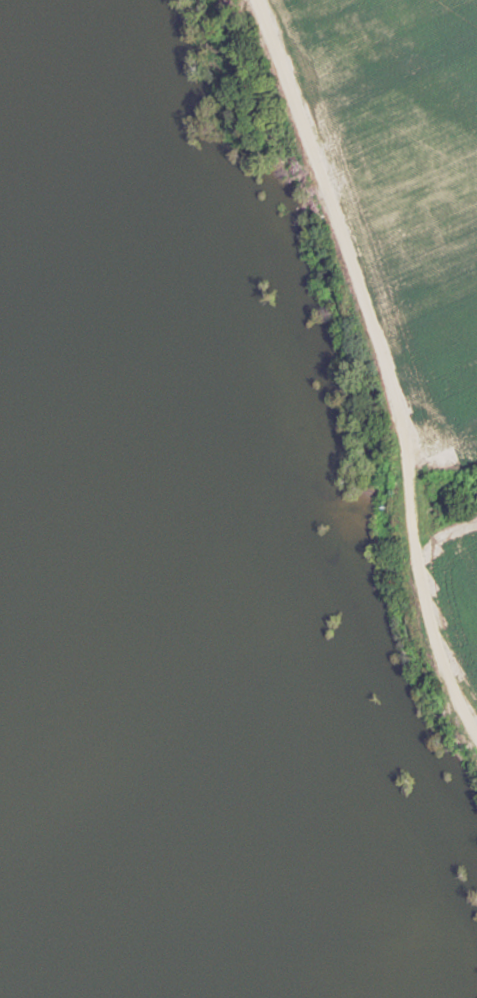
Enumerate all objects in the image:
road: (382, 368)

